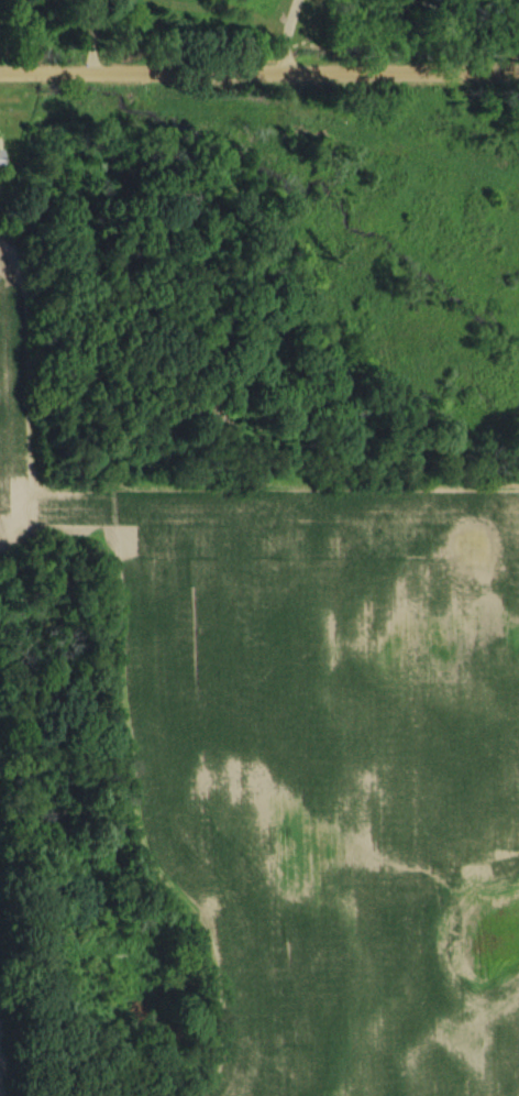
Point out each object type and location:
road: (291, 33)
road: (96, 35)
road: (259, 69)
building: (1, 157)

